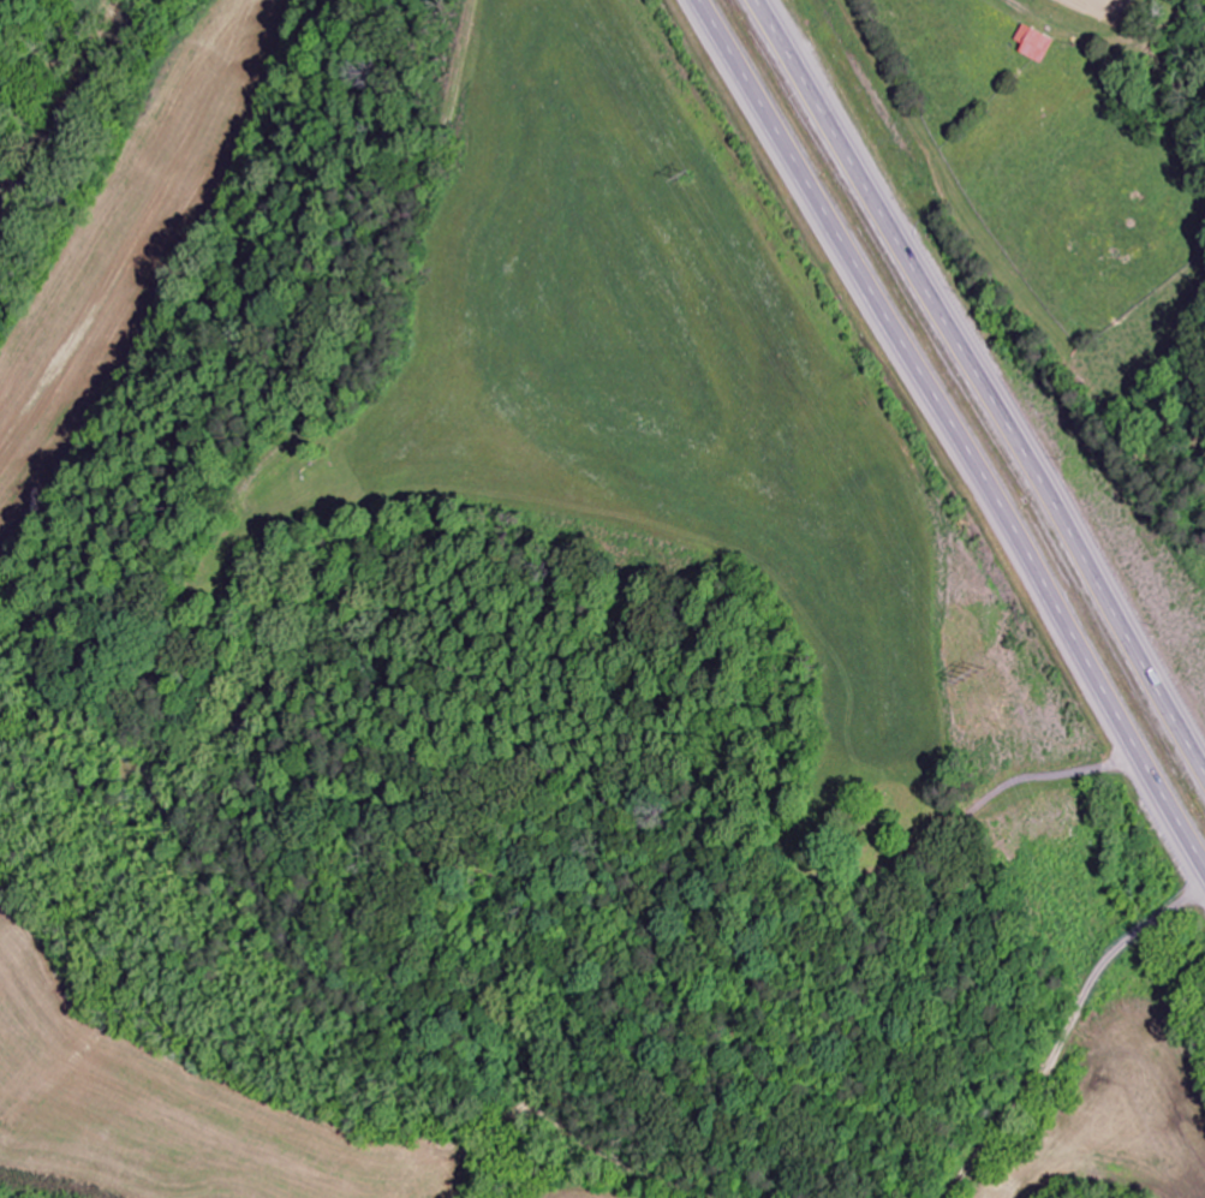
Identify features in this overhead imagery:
building: (1042, 44)
road: (982, 376)
road: (948, 431)

